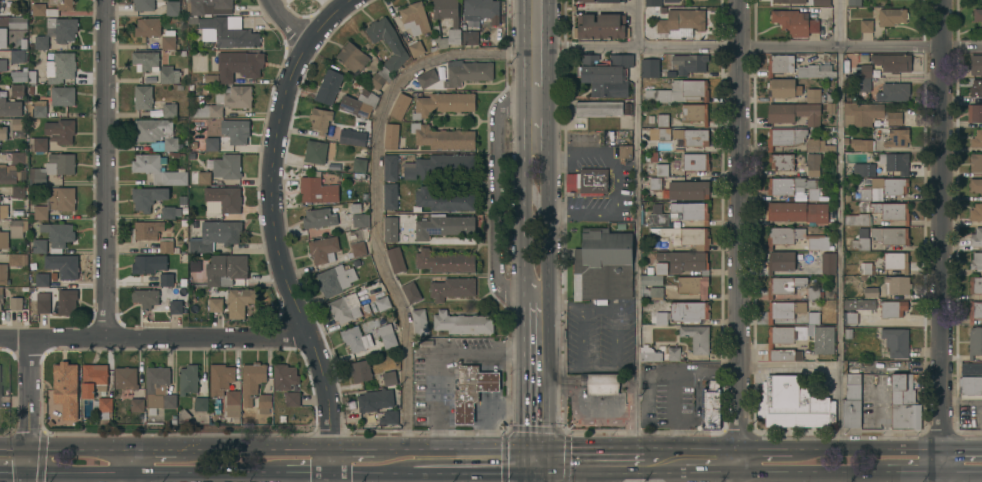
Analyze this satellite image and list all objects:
building: (587, 0)
building: (611, 0)
building: (672, 0)
building: (790, 1)
building: (653, 2)
building: (819, 2)
building: (854, 2)
building: (981, 2)
building: (144, 4)
building: (223, 6)
building: (52, 8)
building: (173, 8)
building: (482, 10)
building: (978, 14)
building: (892, 16)
building: (415, 18)
building: (18, 22)
road: (286, 22)
building: (682, 22)
building: (795, 22)
building: (455, 24)
building: (867, 25)
building: (148, 26)
building: (602, 26)
building: (57, 32)
building: (227, 32)
building: (2, 37)
building: (470, 37)
building: (168, 39)
building: (388, 42)
building: (416, 47)
road: (765, 47)
building: (18, 56)
building: (354, 57)
building: (146, 60)
building: (892, 62)
building: (690, 63)
building: (239, 64)
building: (780, 64)
building: (3, 65)
building: (976, 65)
building: (61, 67)
building: (650, 67)
building: (816, 71)
building: (468, 73)
building: (169, 74)
road: (550, 74)
building: (606, 74)
building: (23, 75)
building: (381, 77)
building: (866, 77)
building: (427, 78)
building: (329, 86)
building: (783, 87)
building: (976, 87)
building: (18, 90)
building: (680, 91)
building: (894, 91)
building: (814, 95)
building: (63, 96)
building: (235, 96)
building: (143, 97)
building: (360, 103)
building: (444, 103)
building: (400, 106)
building: (10, 107)
building: (599, 107)
building: (830, 109)
building: (42, 110)
building: (170, 110)
building: (207, 111)
building: (695, 112)
building: (794, 113)
building: (861, 113)
building: (976, 113)
building: (894, 118)
building: (321, 119)
building: (662, 120)
building: (18, 127)
building: (152, 129)
building: (60, 130)
building: (236, 131)
building: (3, 133)
building: (664, 133)
building: (391, 136)
building: (692, 136)
building: (353, 137)
building: (442, 137)
building: (785, 137)
building: (897, 138)
building: (977, 138)
building: (211, 143)
building: (38, 144)
building: (167, 144)
building: (859, 144)
building: (818, 145)
road: (523, 148)
building: (315, 151)
building: (625, 151)
road: (583, 154)
building: (18, 157)
building: (695, 161)
building: (782, 162)
building: (896, 162)
building: (976, 162)
building: (359, 164)
building: (438, 164)
building: (813, 164)
building: (227, 166)
building: (391, 167)
road: (106, 168)
building: (864, 169)
building: (158, 170)
building: (659, 170)
building: (11, 174)
building: (201, 177)
building: (37, 180)
building: (592, 180)
building: (655, 183)
road: (839, 183)
building: (976, 184)
building: (794, 186)
building: (895, 186)
road: (376, 187)
building: (317, 189)
building: (687, 190)
building: (18, 192)
building: (390, 196)
building: (148, 197)
road: (494, 197)
building: (225, 198)
building: (443, 199)
building: (883, 207)
building: (172, 211)
building: (691, 211)
building: (798, 211)
building: (4, 212)
building: (39, 212)
road: (604, 212)
building: (976, 212)
building: (319, 217)
road: (271, 218)
building: (360, 219)
building: (658, 219)
building: (858, 219)
building: (444, 226)
building: (18, 228)
building: (390, 228)
building: (148, 229)
road: (736, 230)
road: (636, 232)
building: (58, 235)
building: (216, 235)
building: (784, 235)
building: (890, 235)
building: (686, 236)
building: (976, 237)
building: (4, 240)
building: (861, 240)
road: (941, 241)
building: (818, 242)
building: (661, 243)
building: (166, 245)
building: (40, 246)
building: (324, 249)
building: (357, 249)
building: (18, 259)
building: (396, 260)
building: (444, 261)
building: (685, 261)
building: (781, 261)
building: (896, 261)
building: (976, 261)
building: (828, 262)
building: (149, 263)
building: (604, 264)
building: (63, 265)
building: (226, 269)
building: (864, 269)
building: (3, 274)
building: (654, 275)
building: (166, 279)
building: (336, 279)
building: (42, 280)
building: (897, 284)
building: (975, 284)
building: (693, 285)
building: (784, 285)
building: (452, 288)
building: (411, 291)
building: (871, 291)
building: (656, 292)
building: (814, 293)
building: (241, 296)
building: (146, 297)
building: (1, 300)
building: (66, 301)
building: (16, 303)
building: (43, 303)
building: (382, 303)
building: (215, 304)
building: (860, 305)
road: (549, 306)
building: (177, 307)
building: (345, 308)
building: (892, 308)
building: (785, 310)
building: (975, 310)
building: (679, 312)
building: (851, 318)
building: (420, 321)
building: (463, 323)
road: (523, 329)
building: (382, 330)
road: (154, 337)
building: (697, 337)
building: (787, 337)
building: (356, 339)
building: (896, 341)
building: (975, 341)
building: (644, 346)
building: (615, 347)
road: (436, 359)
road: (787, 366)
building: (971, 368)
building: (361, 371)
building: (285, 376)
building: (126, 377)
building: (389, 377)
building: (220, 378)
building: (188, 379)
building: (252, 379)
building: (602, 383)
building: (970, 387)
building: (159, 388)
building: (66, 389)
building: (96, 390)
building: (472, 390)
building: (0, 391)
building: (292, 399)
building: (375, 400)
building: (852, 401)
building: (233, 403)
building: (264, 403)
building: (904, 403)
building: (137, 404)
building: (201, 404)
building: (792, 404)
road: (29, 405)
building: (711, 406)
building: (0, 407)
road: (524, 411)
building: (183, 416)
building: (390, 417)
road: (883, 419)
road: (535, 431)
road: (960, 447)
road: (773, 448)
road: (876, 448)
traffic signals: (29, 452)
road: (65, 452)
road: (167, 452)
road: (270, 452)
road: (371, 452)
road: (471, 452)
road: (504, 456)
road: (566, 456)
road: (700, 460)
road: (598, 461)
road: (337, 464)
road: (132, 467)
road: (534, 471)
road: (600, 471)
road: (738, 471)
road: (903, 471)
road: (960, 471)
road: (801, 472)
road: (467, 473)
road: (14, 475)
traffic signals: (29, 475)
road: (144, 475)
road: (299, 475)
road: (367, 475)
road: (441, 477)
road: (839, 477)
road: (336, 479)

